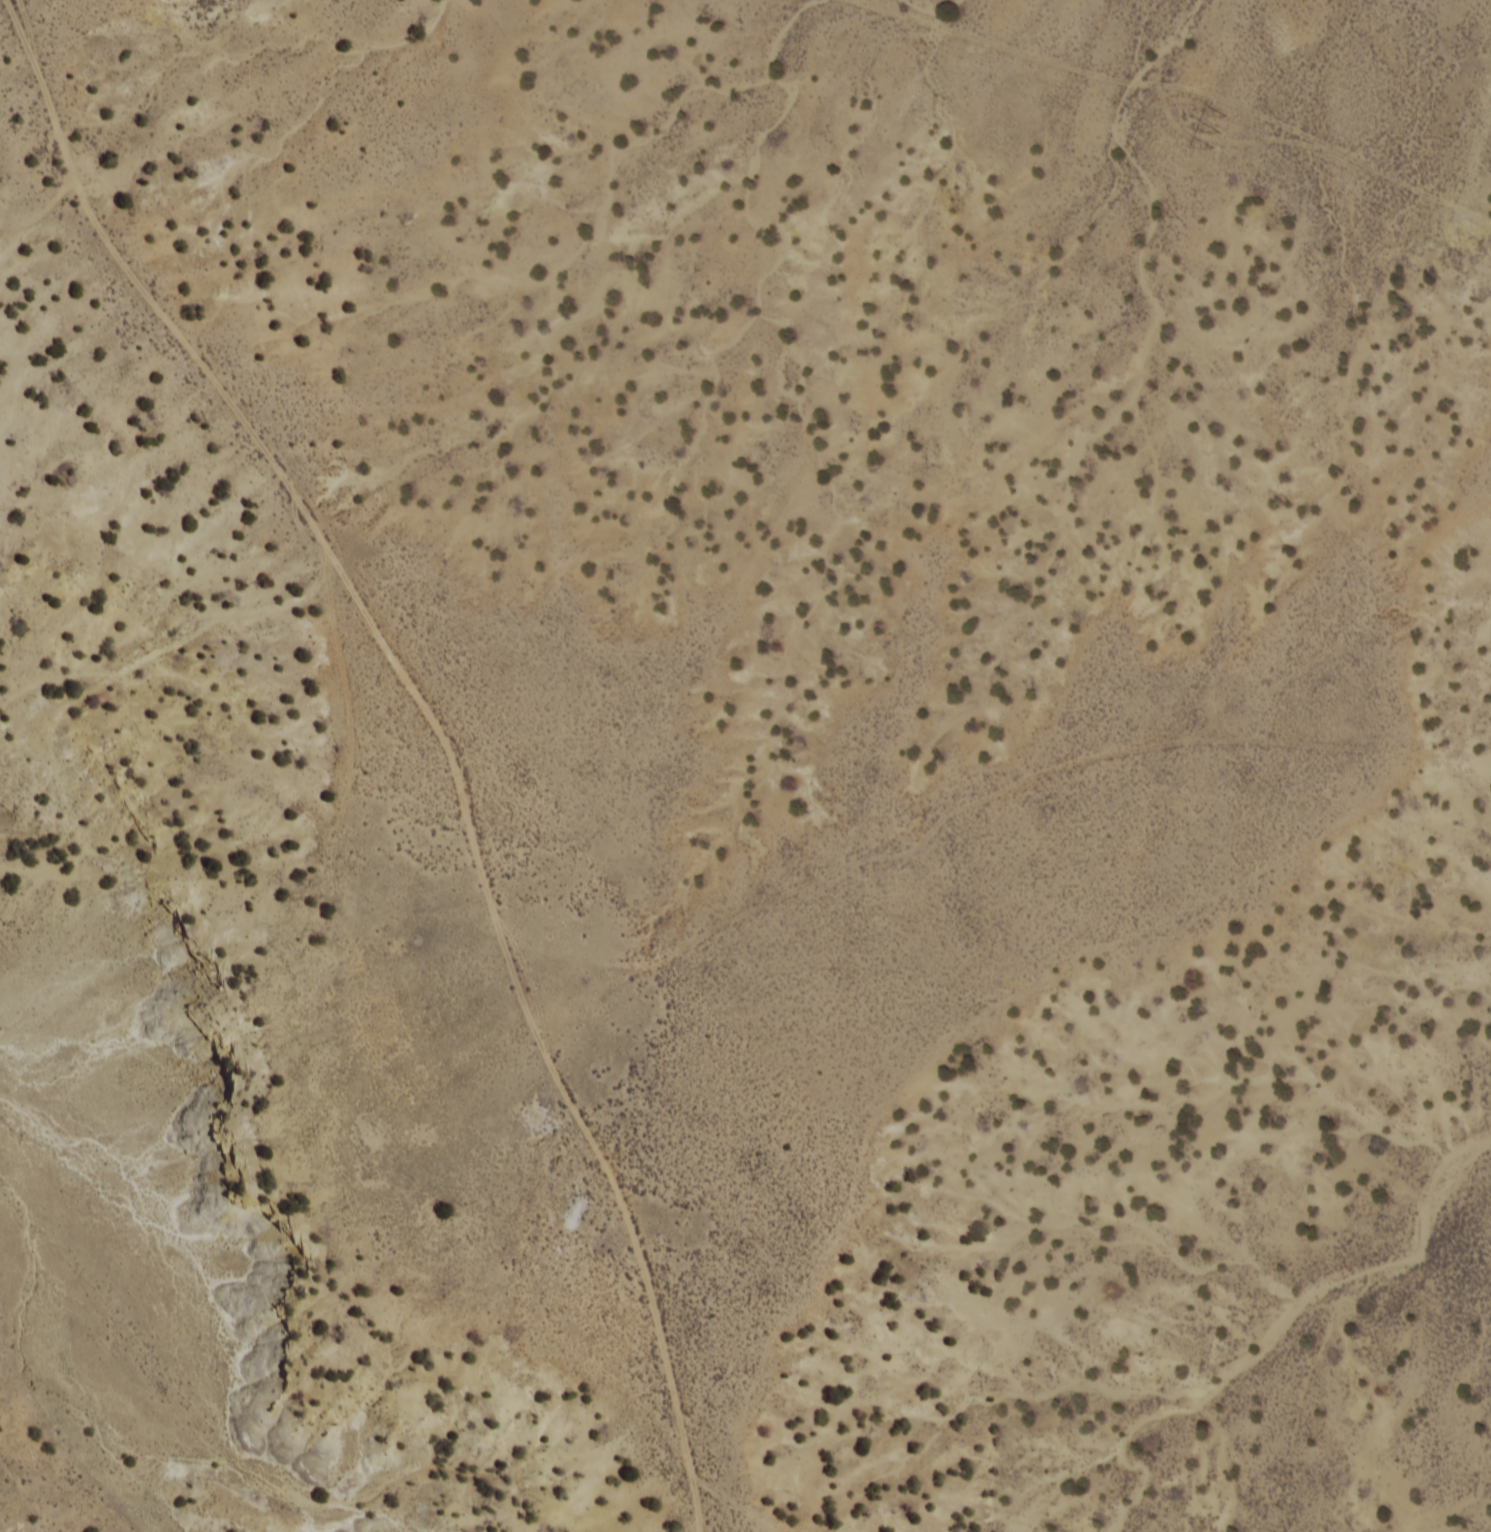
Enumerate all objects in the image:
power tower: (1247, 137)
road: (137, 295)
road: (129, 715)
road: (534, 1034)

